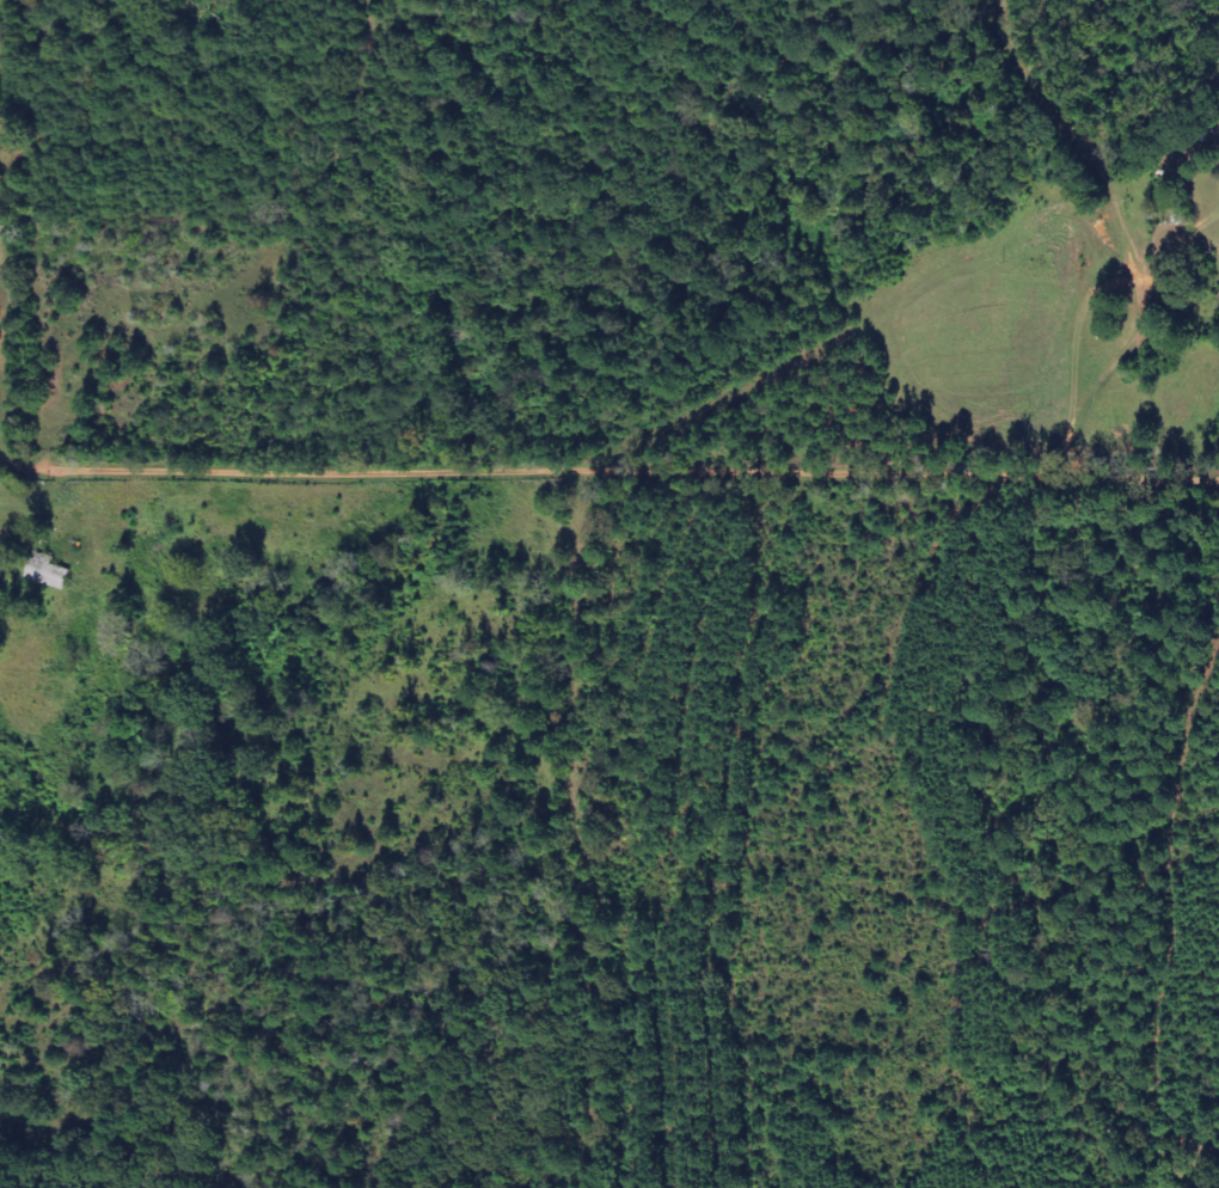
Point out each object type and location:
road: (609, 501)
building: (48, 572)
road: (572, 810)

